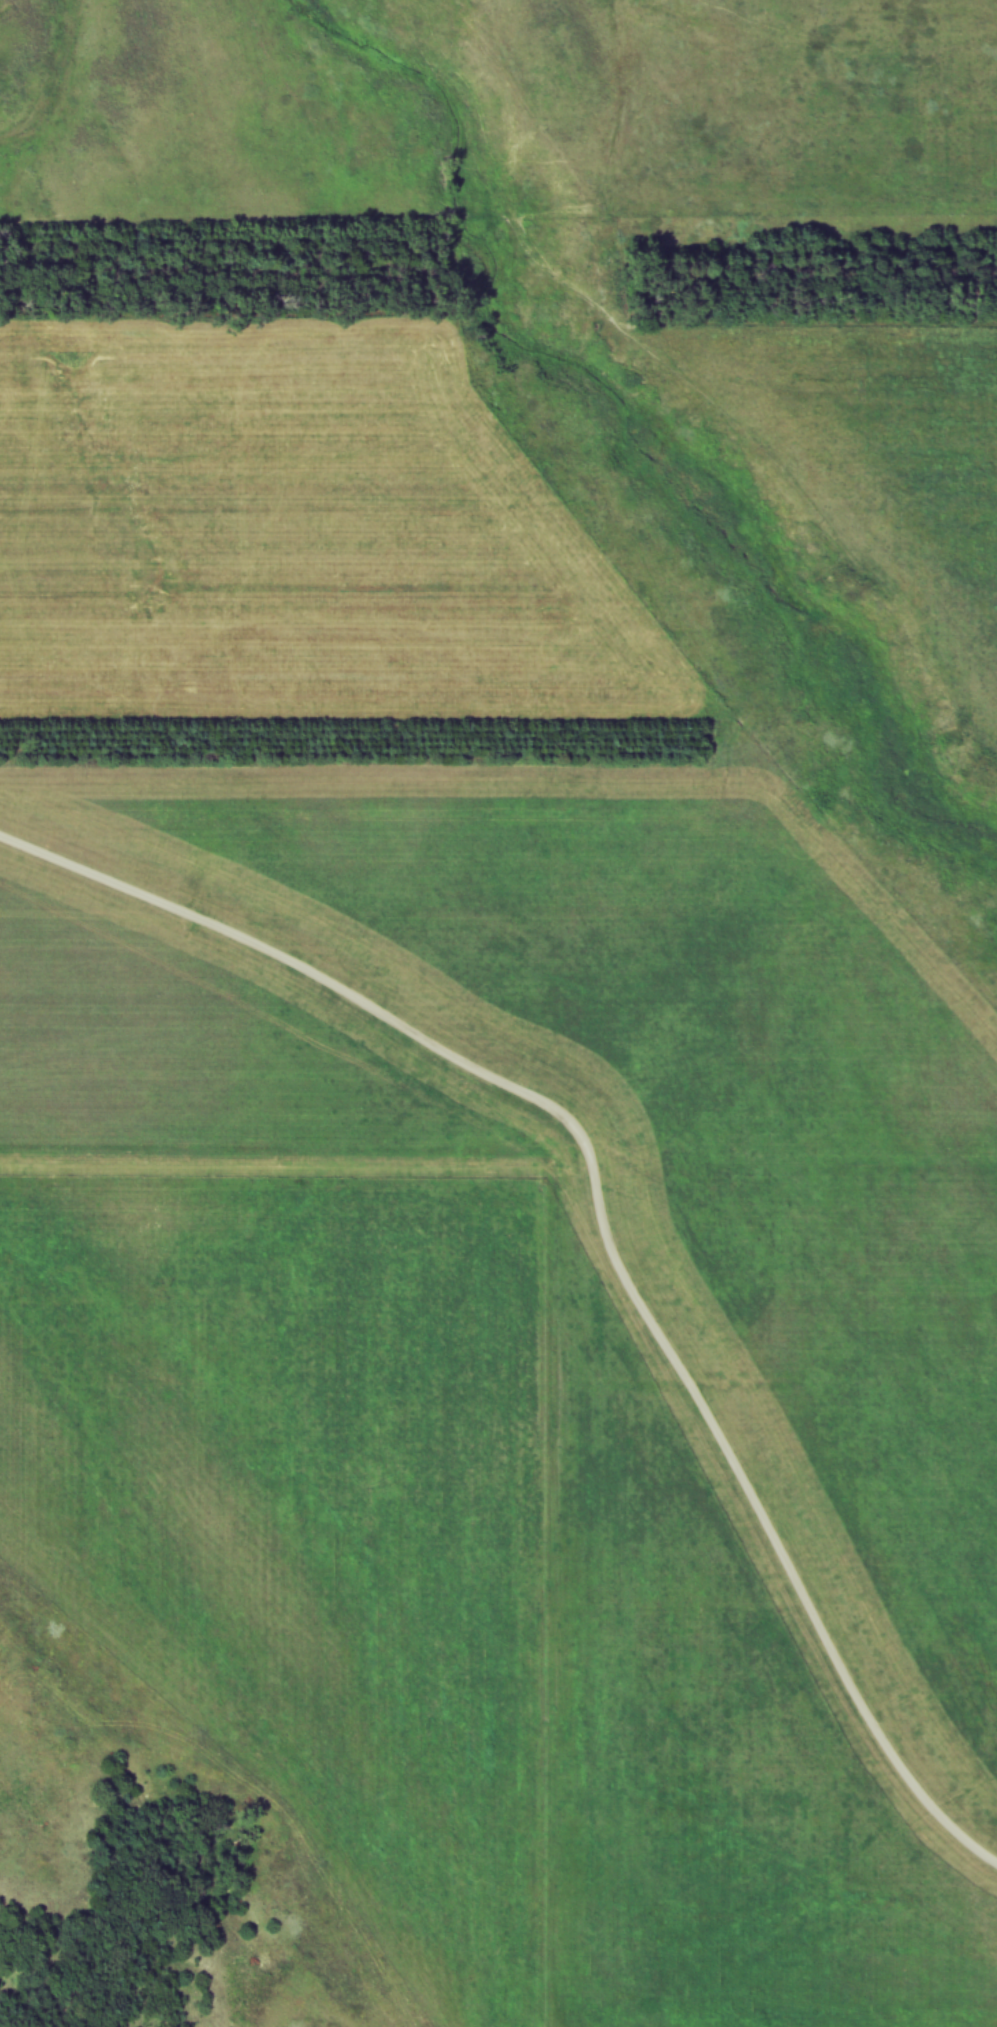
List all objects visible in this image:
road: (606, 1235)

